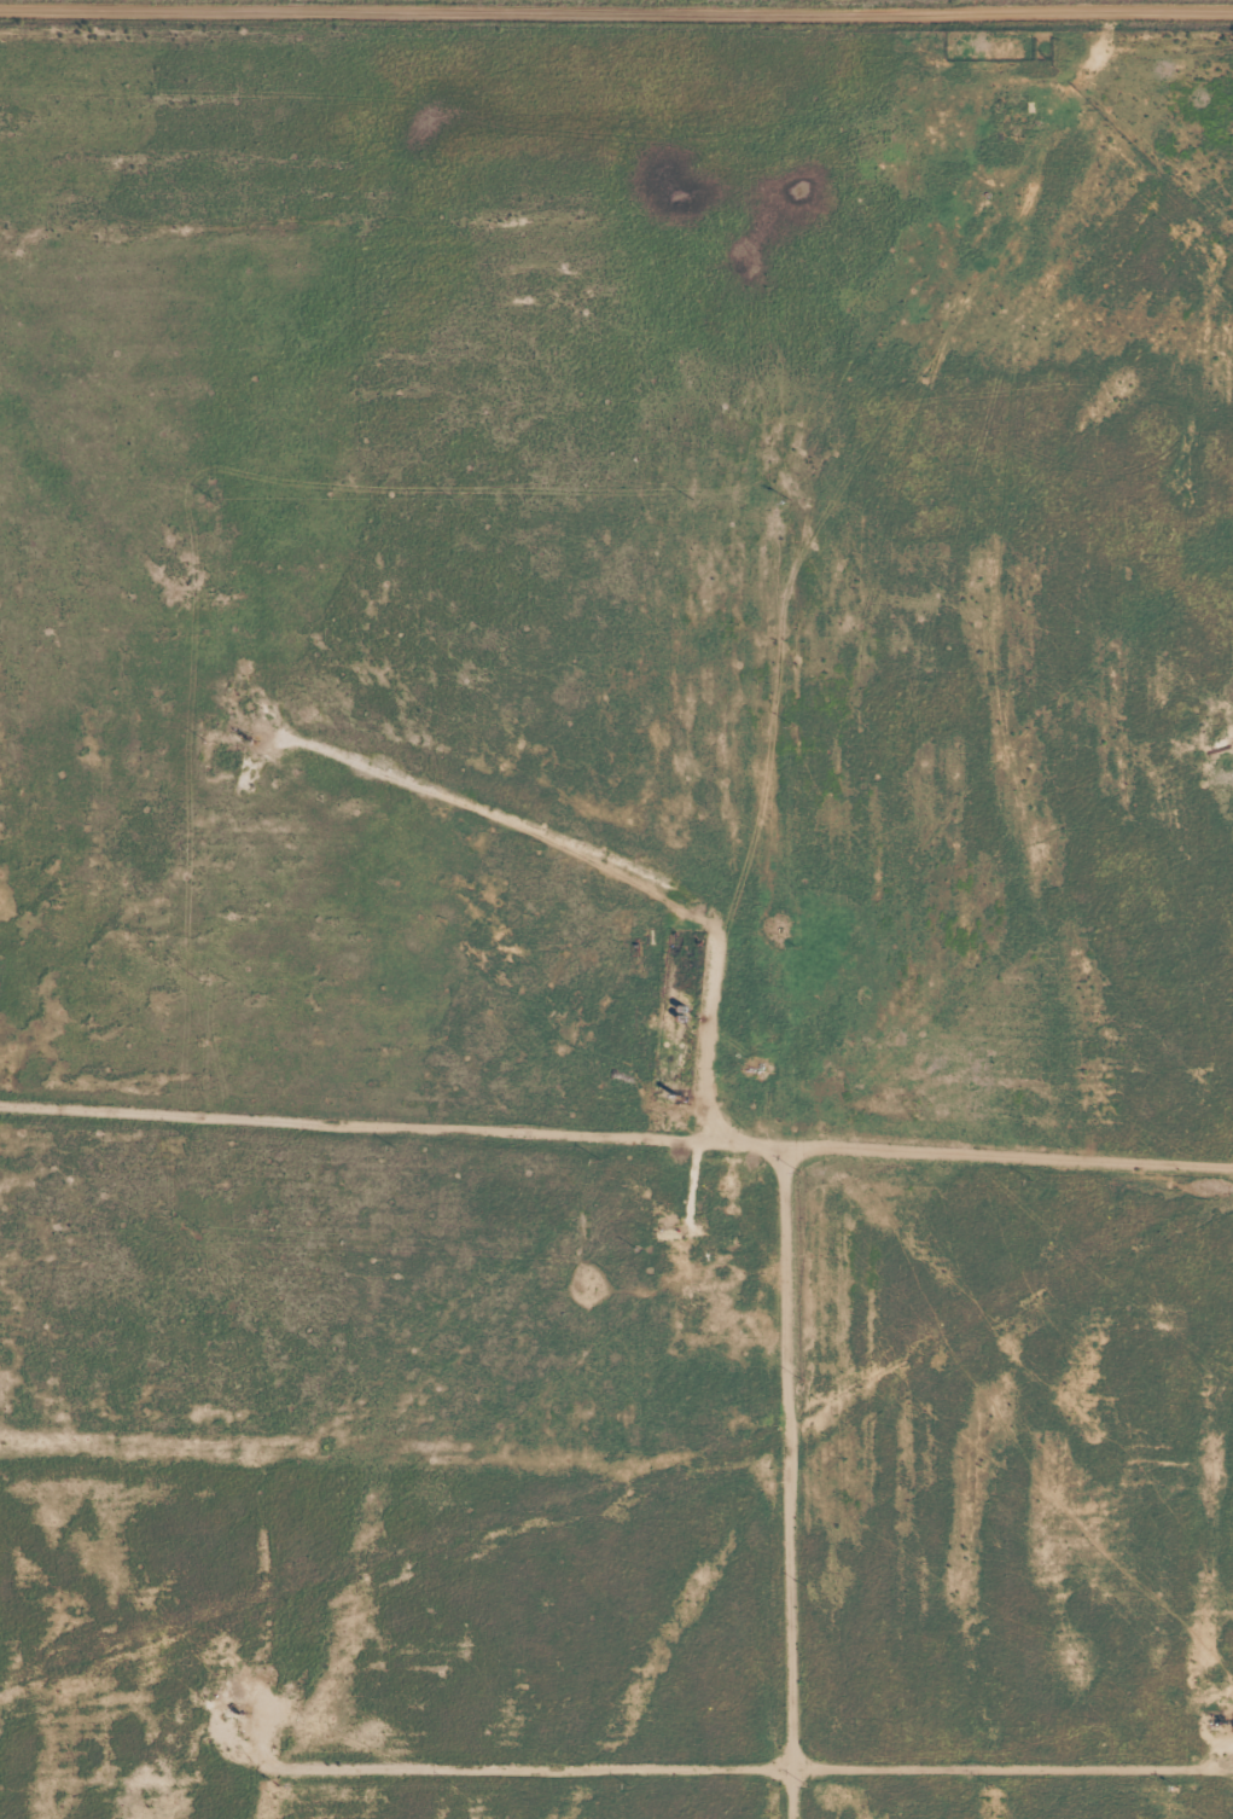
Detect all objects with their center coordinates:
road: (798, 620)
petroleum well: (240, 738)
road: (513, 889)
road: (1022, 1131)
petroleum well: (244, 1713)
petroleum well: (1228, 1722)

